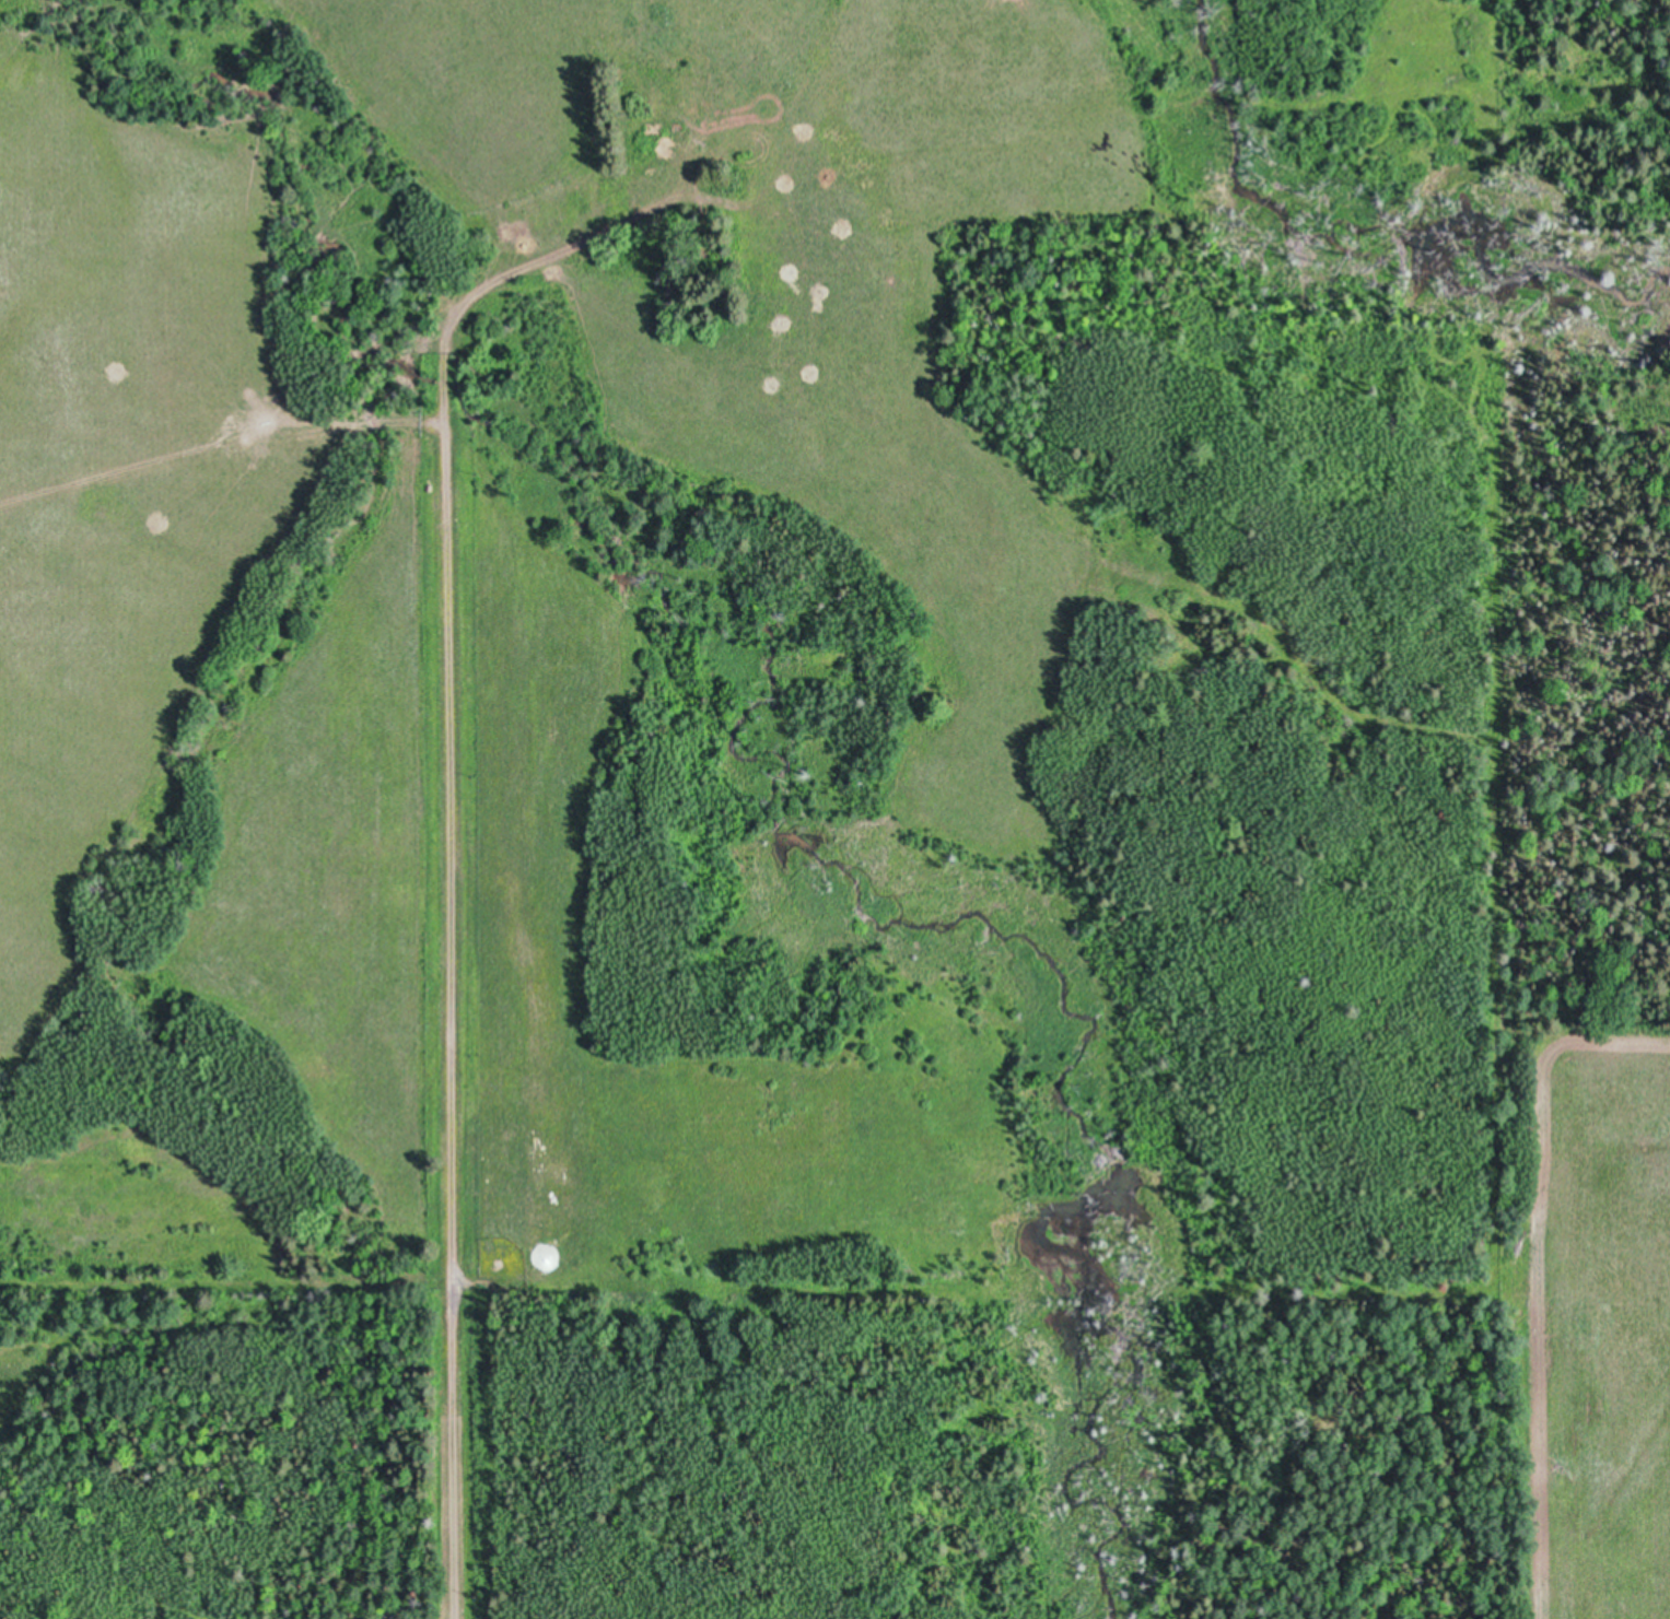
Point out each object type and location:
road: (447, 1025)

